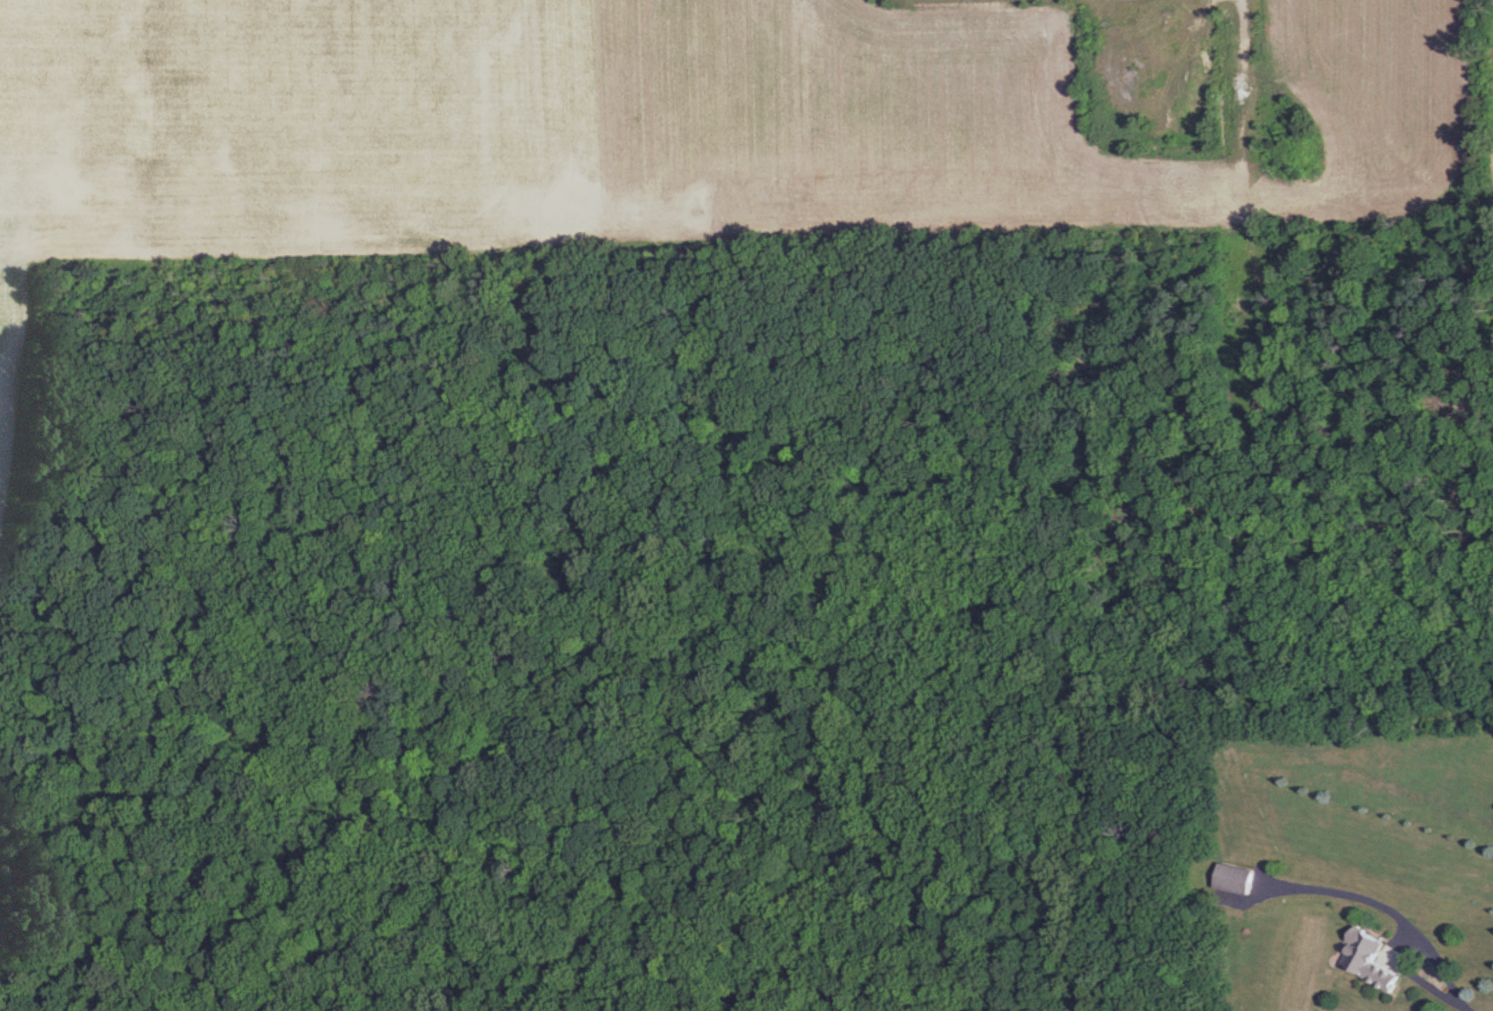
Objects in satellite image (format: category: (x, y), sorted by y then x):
building: (1241, 879)
road: (1372, 901)
building: (1375, 959)
road: (1432, 990)

